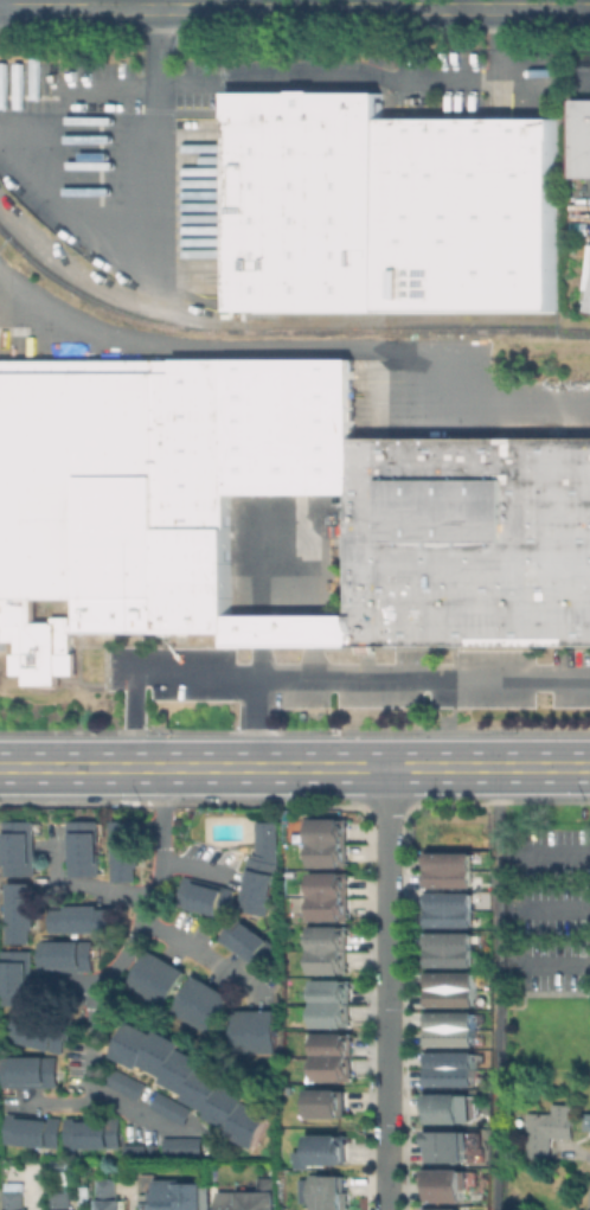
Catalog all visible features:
road: (25, 5)
road: (295, 8)
road: (502, 43)
road: (153, 46)
road: (586, 76)
road: (160, 83)
building: (456, 110)
building: (579, 137)
building: (389, 209)
building: (589, 309)
railway: (280, 332)
road: (291, 350)
railway: (217, 353)
building: (90, 365)
building: (269, 504)
building: (116, 514)
building: (44, 635)
building: (206, 639)
road: (316, 674)
road: (256, 721)
road: (295, 767)
building: (269, 834)
building: (325, 840)
building: (24, 847)
building: (86, 847)
building: (128, 850)
building: (450, 869)
road: (85, 884)
building: (259, 885)
building: (209, 896)
building: (326, 897)
road: (147, 900)
building: (450, 910)
building: (25, 911)
building: (86, 918)
building: (249, 941)
building: (450, 950)
building: (327, 952)
building: (72, 955)
building: (23, 977)
building: (159, 978)
road: (495, 987)
road: (385, 988)
building: (450, 991)
building: (204, 1003)
building: (329, 1010)
road: (95, 1027)
building: (45, 1031)
building: (257, 1031)
building: (451, 1032)
building: (331, 1064)
building: (34, 1071)
building: (450, 1073)
building: (124, 1078)
building: (197, 1081)
building: (332, 1105)
road: (127, 1107)
building: (173, 1108)
building: (447, 1109)
building: (36, 1128)
building: (97, 1132)
building: (546, 1132)
building: (188, 1147)
building: (449, 1148)
building: (140, 1150)
building: (332, 1151)
building: (448, 1187)
building: (174, 1192)
building: (17, 1195)
building: (65, 1195)
building: (254, 1195)
road: (588, 1195)
building: (334, 1196)
building: (109, 1197)
building: (438, 1209)

